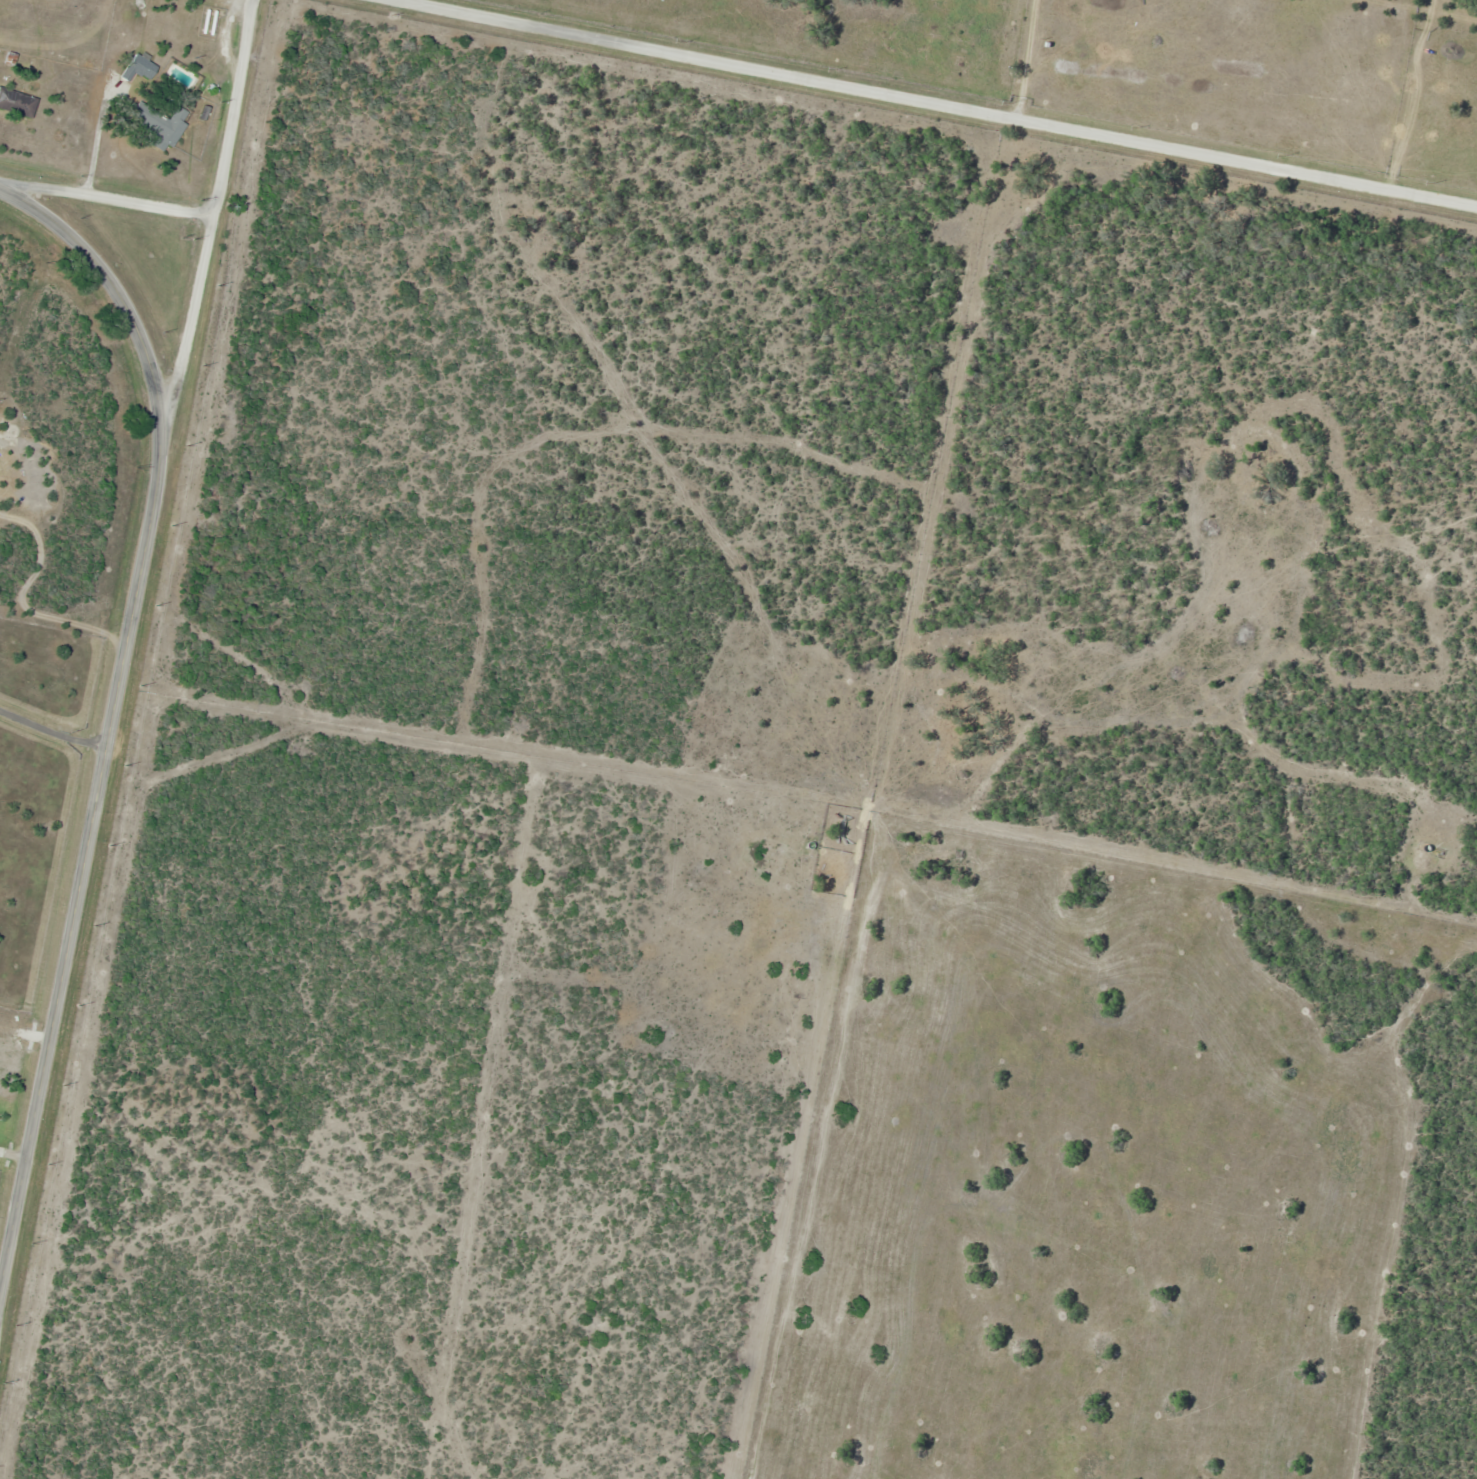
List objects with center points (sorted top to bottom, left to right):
building: (140, 69)
building: (18, 102)
road: (916, 103)
building: (159, 125)
road: (109, 197)
road: (212, 241)
road: (115, 707)

